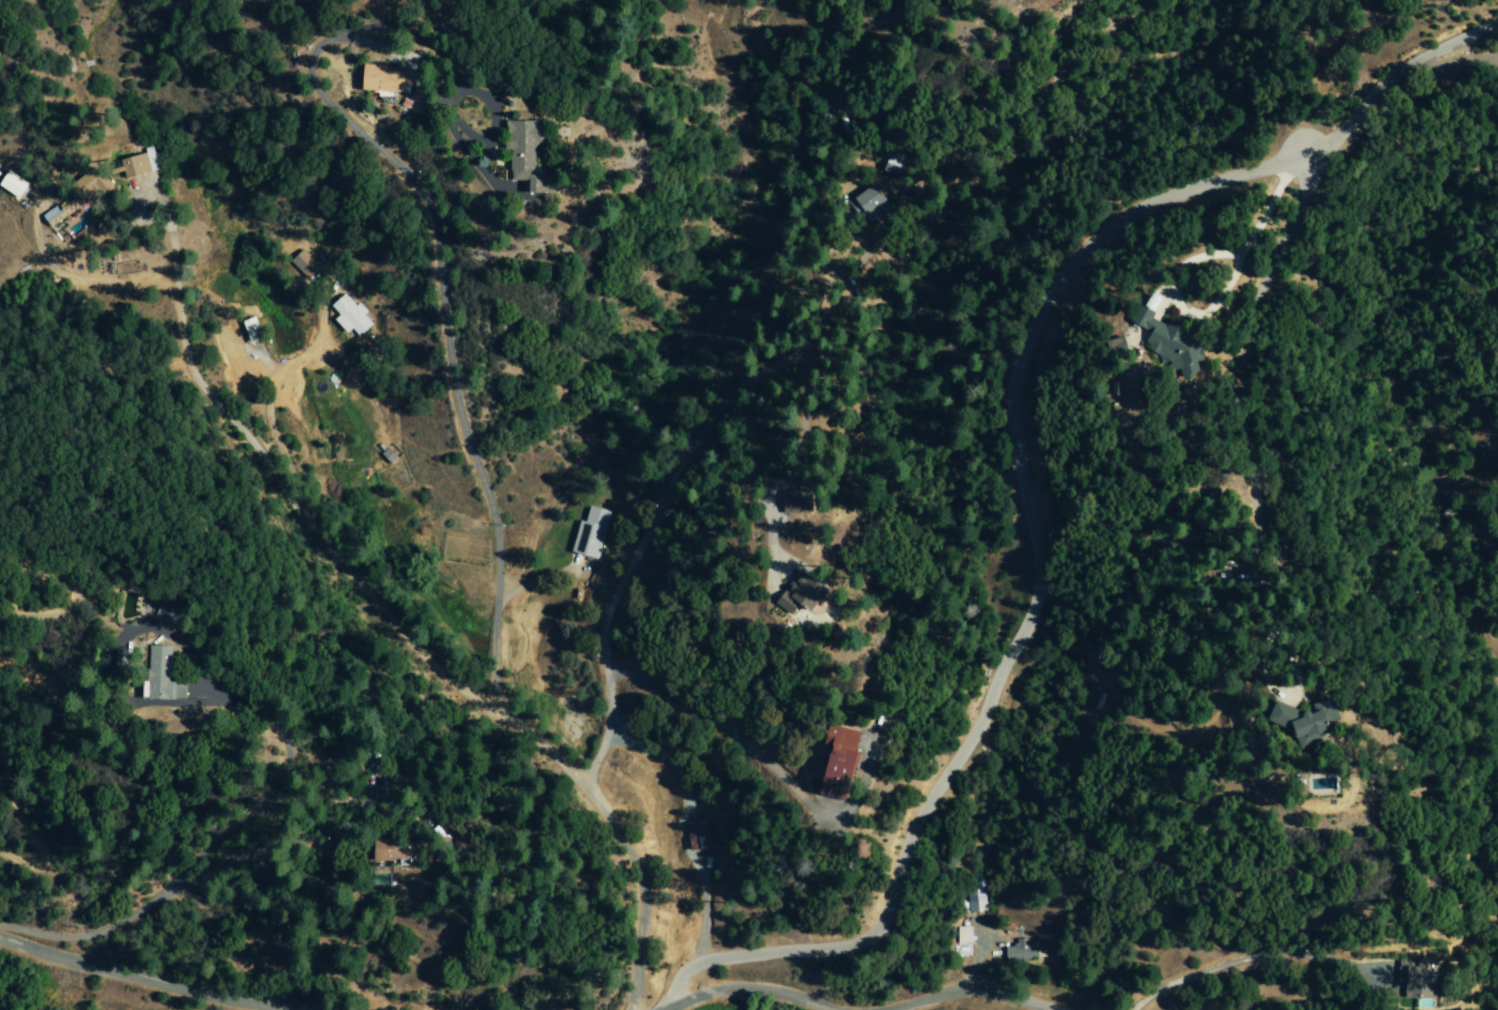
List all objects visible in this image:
road: (1495, 56)
road: (437, 57)
road: (1462, 58)
building: (376, 81)
building: (515, 153)
building: (133, 165)
building: (11, 185)
building: (85, 186)
building: (869, 199)
building: (51, 216)
building: (302, 262)
building: (349, 315)
building: (248, 330)
building: (1159, 341)
road: (444, 343)
building: (1106, 349)
road: (1250, 405)
building: (387, 457)
road: (1016, 479)
road: (651, 520)
building: (591, 534)
building: (787, 599)
road: (410, 651)
building: (161, 680)
building: (1302, 722)
road: (715, 724)
building: (830, 762)
building: (392, 851)
building: (963, 935)
building: (1020, 950)
building: (1416, 980)
road: (125, 982)
road: (742, 995)
road: (963, 1000)

